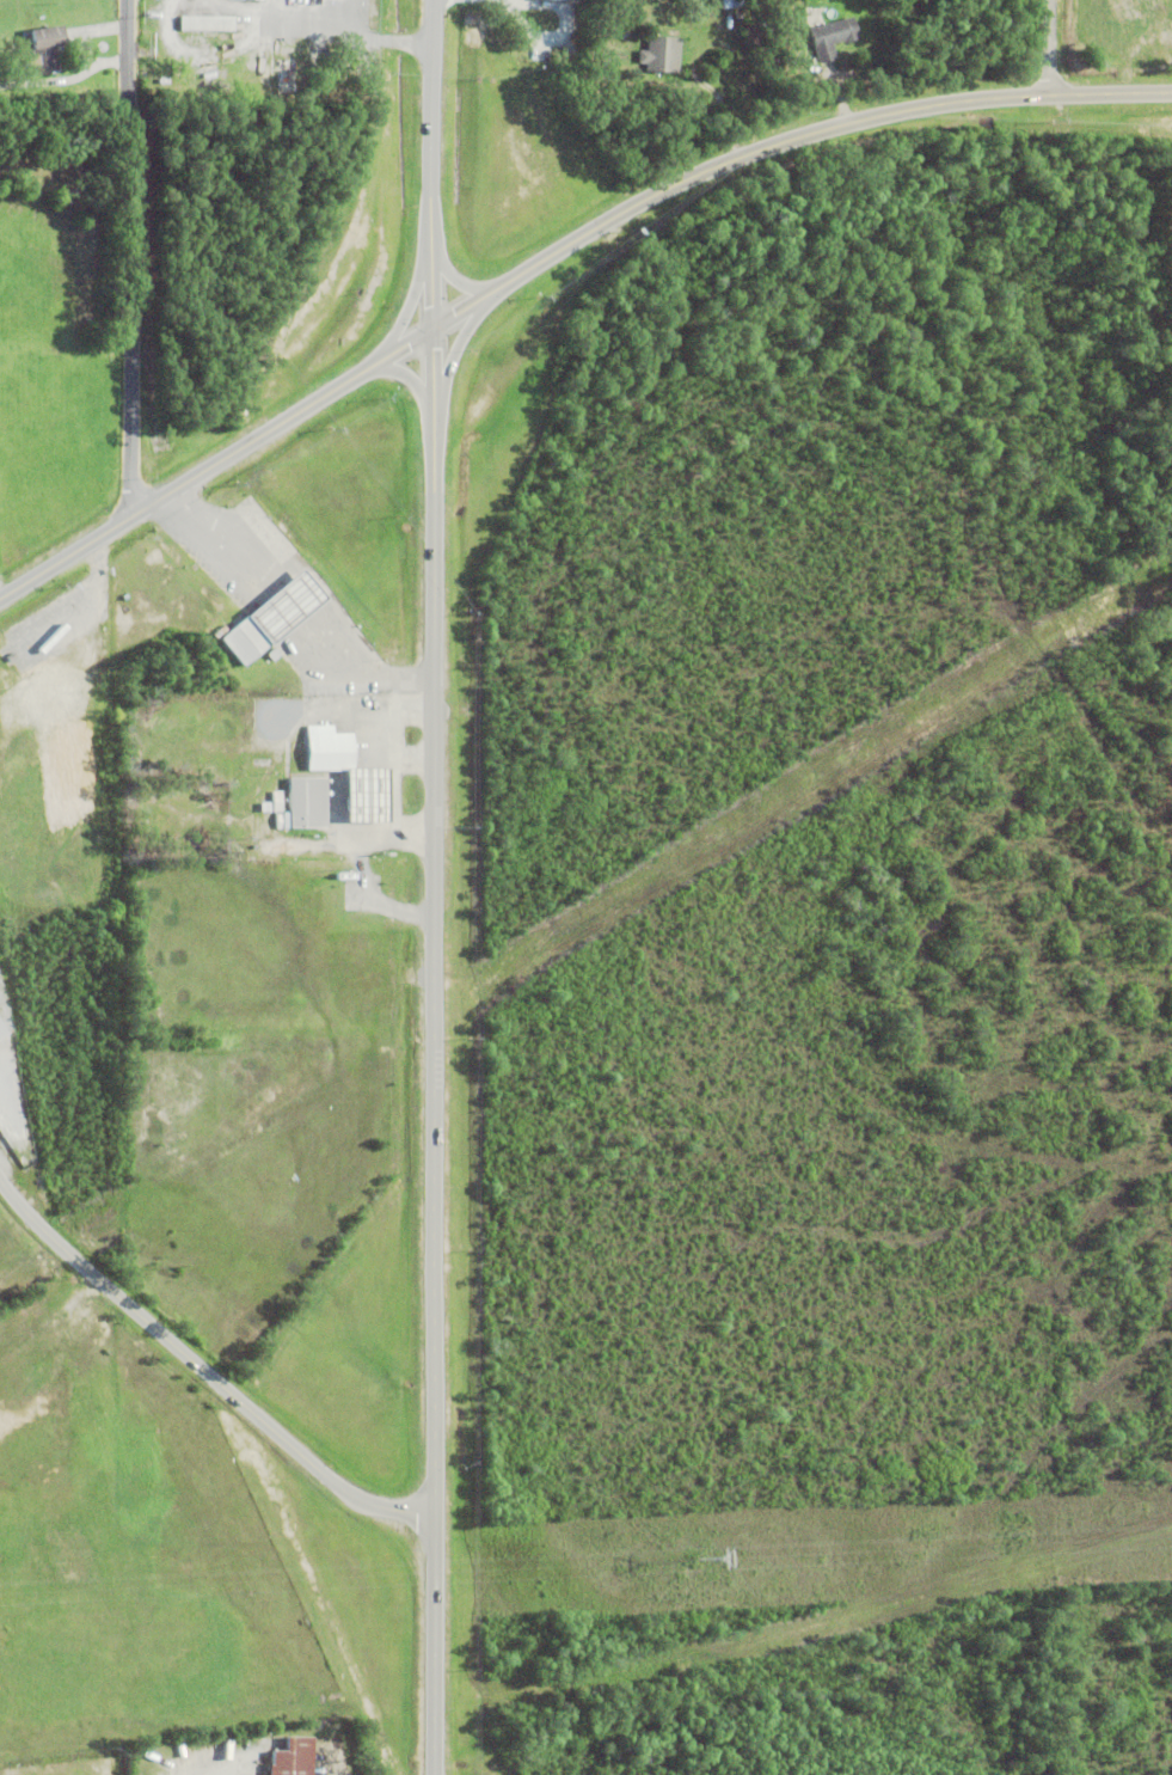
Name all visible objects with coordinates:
building: (244, 1)
building: (730, 5)
building: (689, 22)
building: (207, 26)
building: (753, 36)
building: (830, 41)
road: (1050, 47)
building: (203, 48)
building: (45, 51)
building: (657, 54)
building: (287, 68)
road: (65, 72)
building: (308, 94)
road: (435, 120)
road: (553, 255)
road: (134, 257)
road: (460, 276)
road: (412, 305)
road: (460, 348)
road: (417, 379)
road: (219, 543)
road: (287, 600)
building: (272, 613)
building: (198, 626)
building: (219, 630)
building: (39, 656)
road: (356, 669)
building: (348, 770)
building: (136, 798)
building: (277, 800)
building: (303, 802)
building: (161, 824)
building: (168, 828)
building: (344, 867)
road: (436, 1006)
building: (1, 1027)
building: (1, 1034)
road: (203, 1366)
power tower: (694, 1559)
building: (293, 1757)

